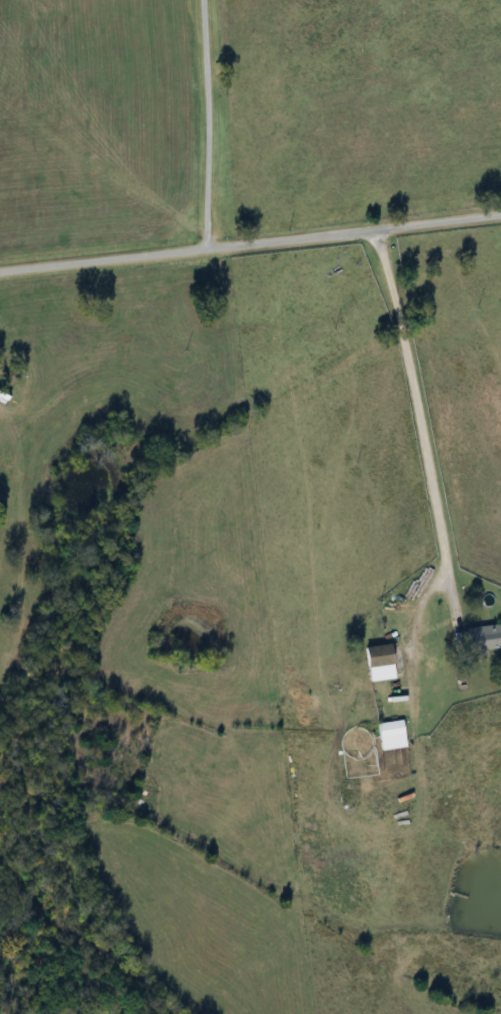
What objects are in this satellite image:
road: (199, 125)
road: (250, 244)
road: (411, 416)
building: (481, 639)
building: (330, 691)
building: (387, 735)

